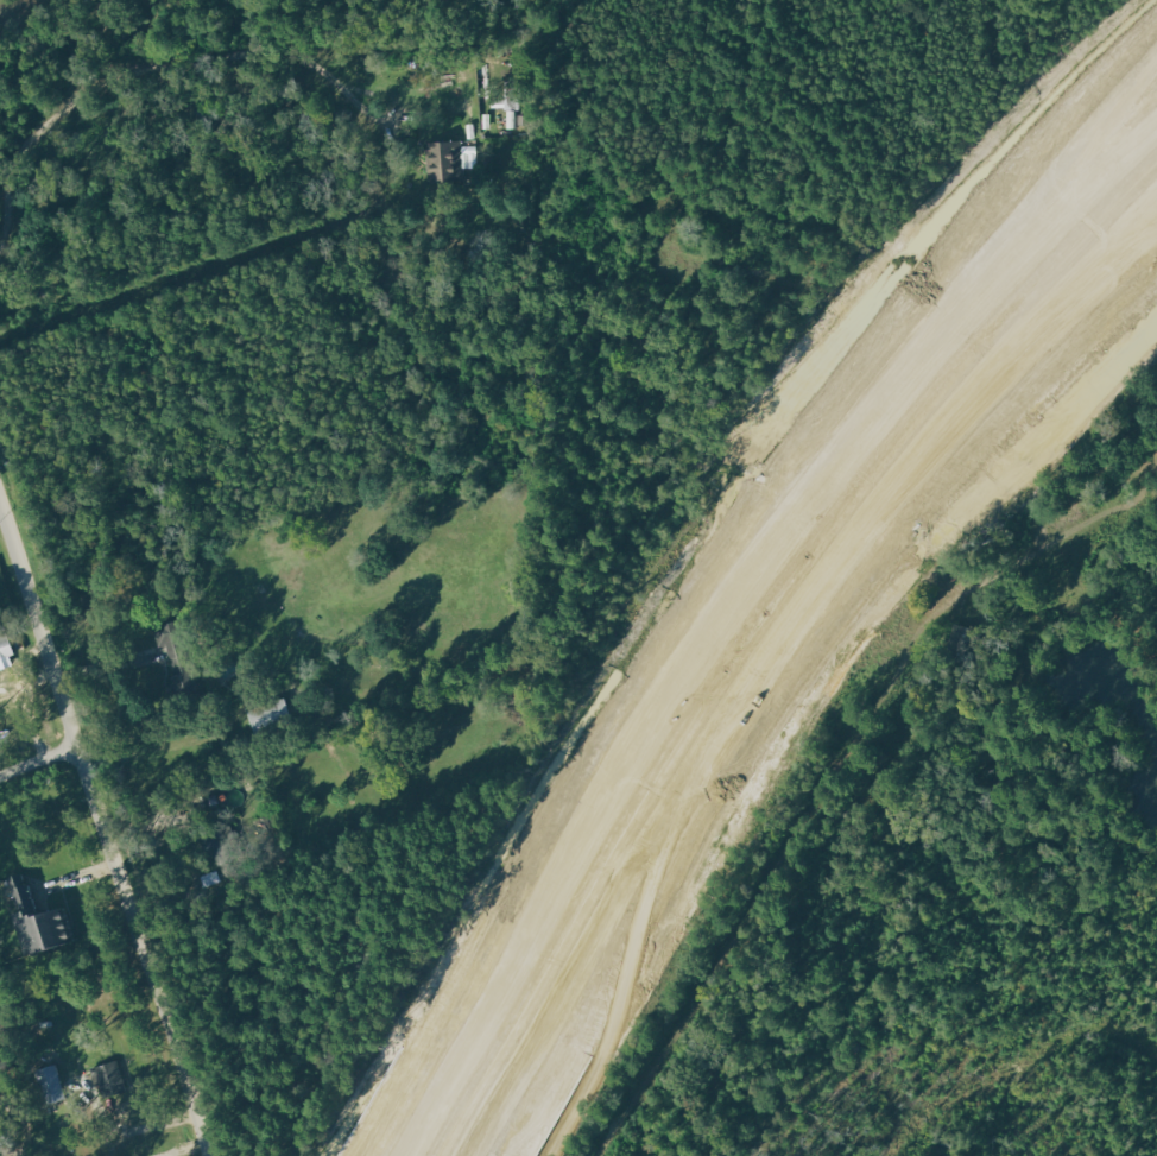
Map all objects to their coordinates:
road: (153, 70)
road: (979, 288)
road: (1009, 387)
road: (0, 508)
road: (742, 611)
building: (178, 649)
building: (8, 652)
road: (780, 656)
building: (277, 715)
road: (38, 763)
road: (102, 830)
building: (46, 920)
building: (113, 1079)

